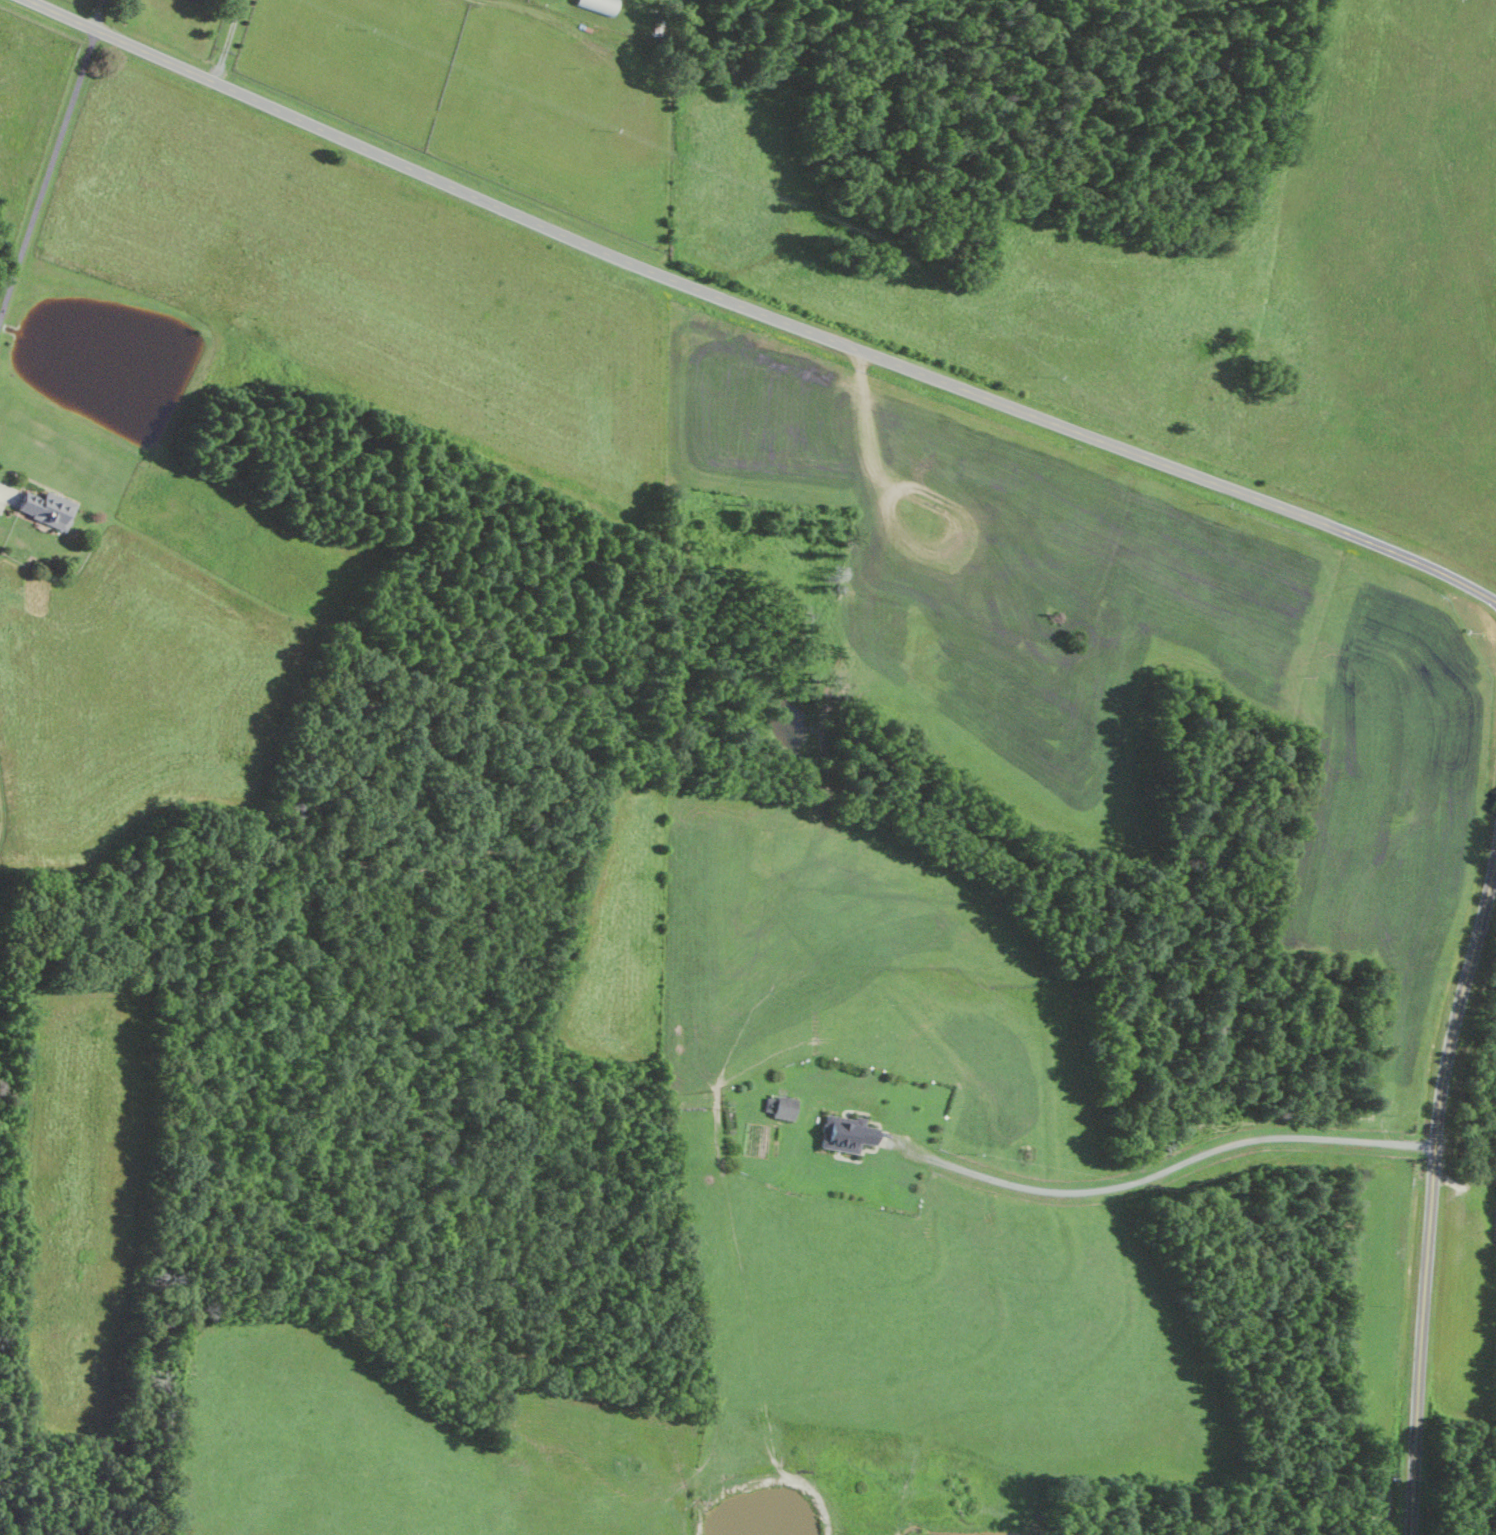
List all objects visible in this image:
road: (228, 41)
road: (47, 176)
road: (757, 312)
building: (49, 508)
building: (849, 1133)
road: (1165, 1168)
road: (1433, 1195)

